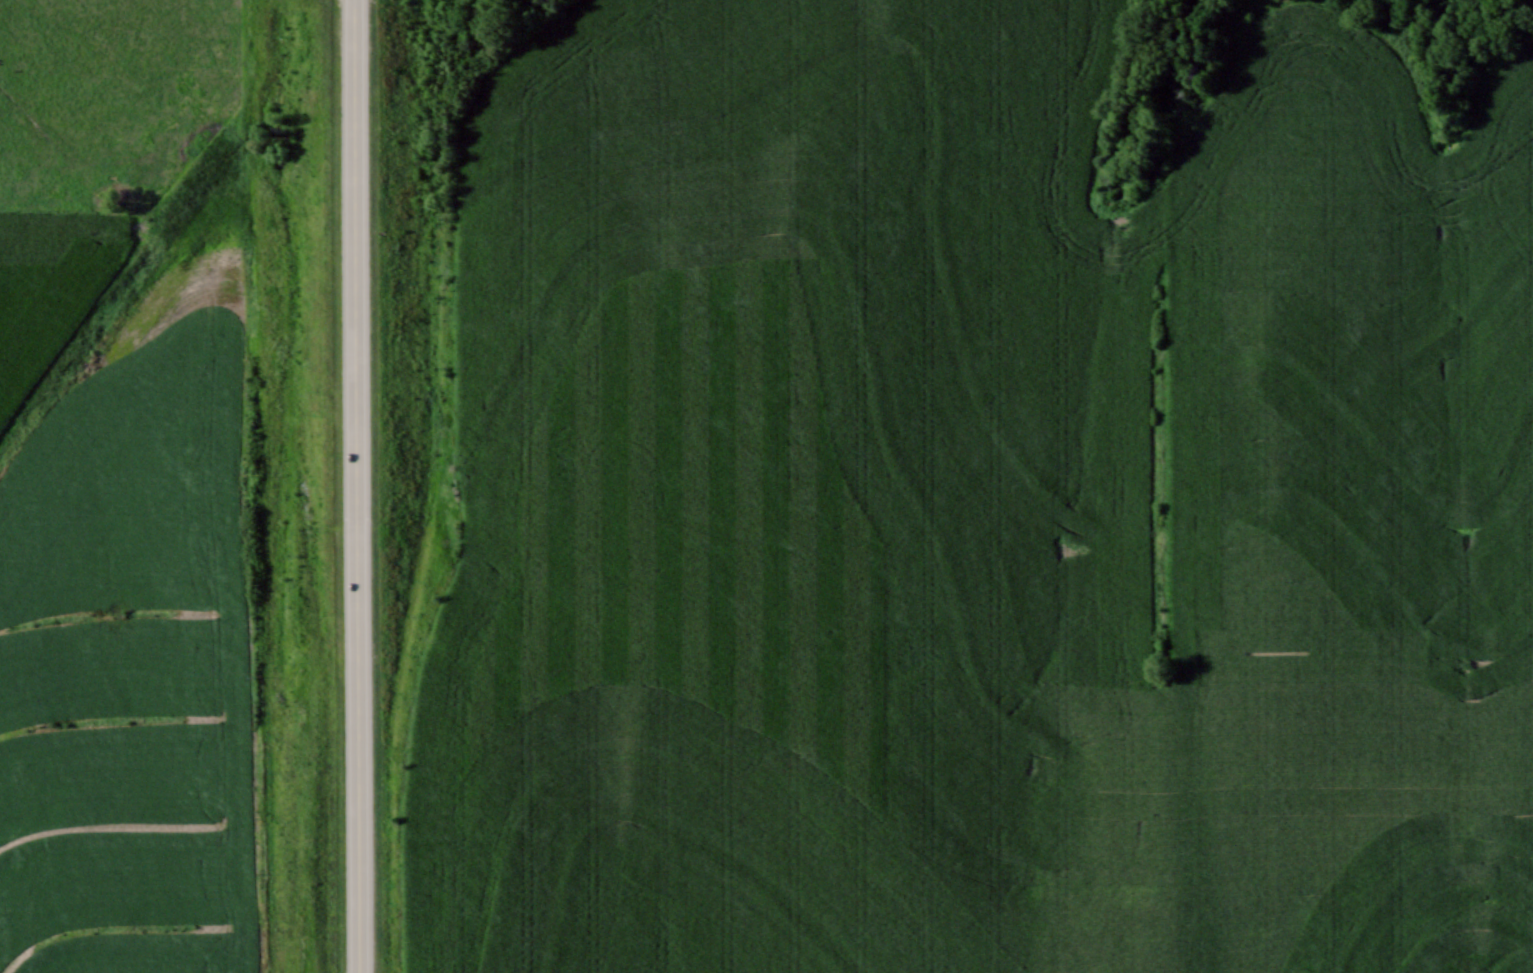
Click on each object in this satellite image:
road: (357, 486)

